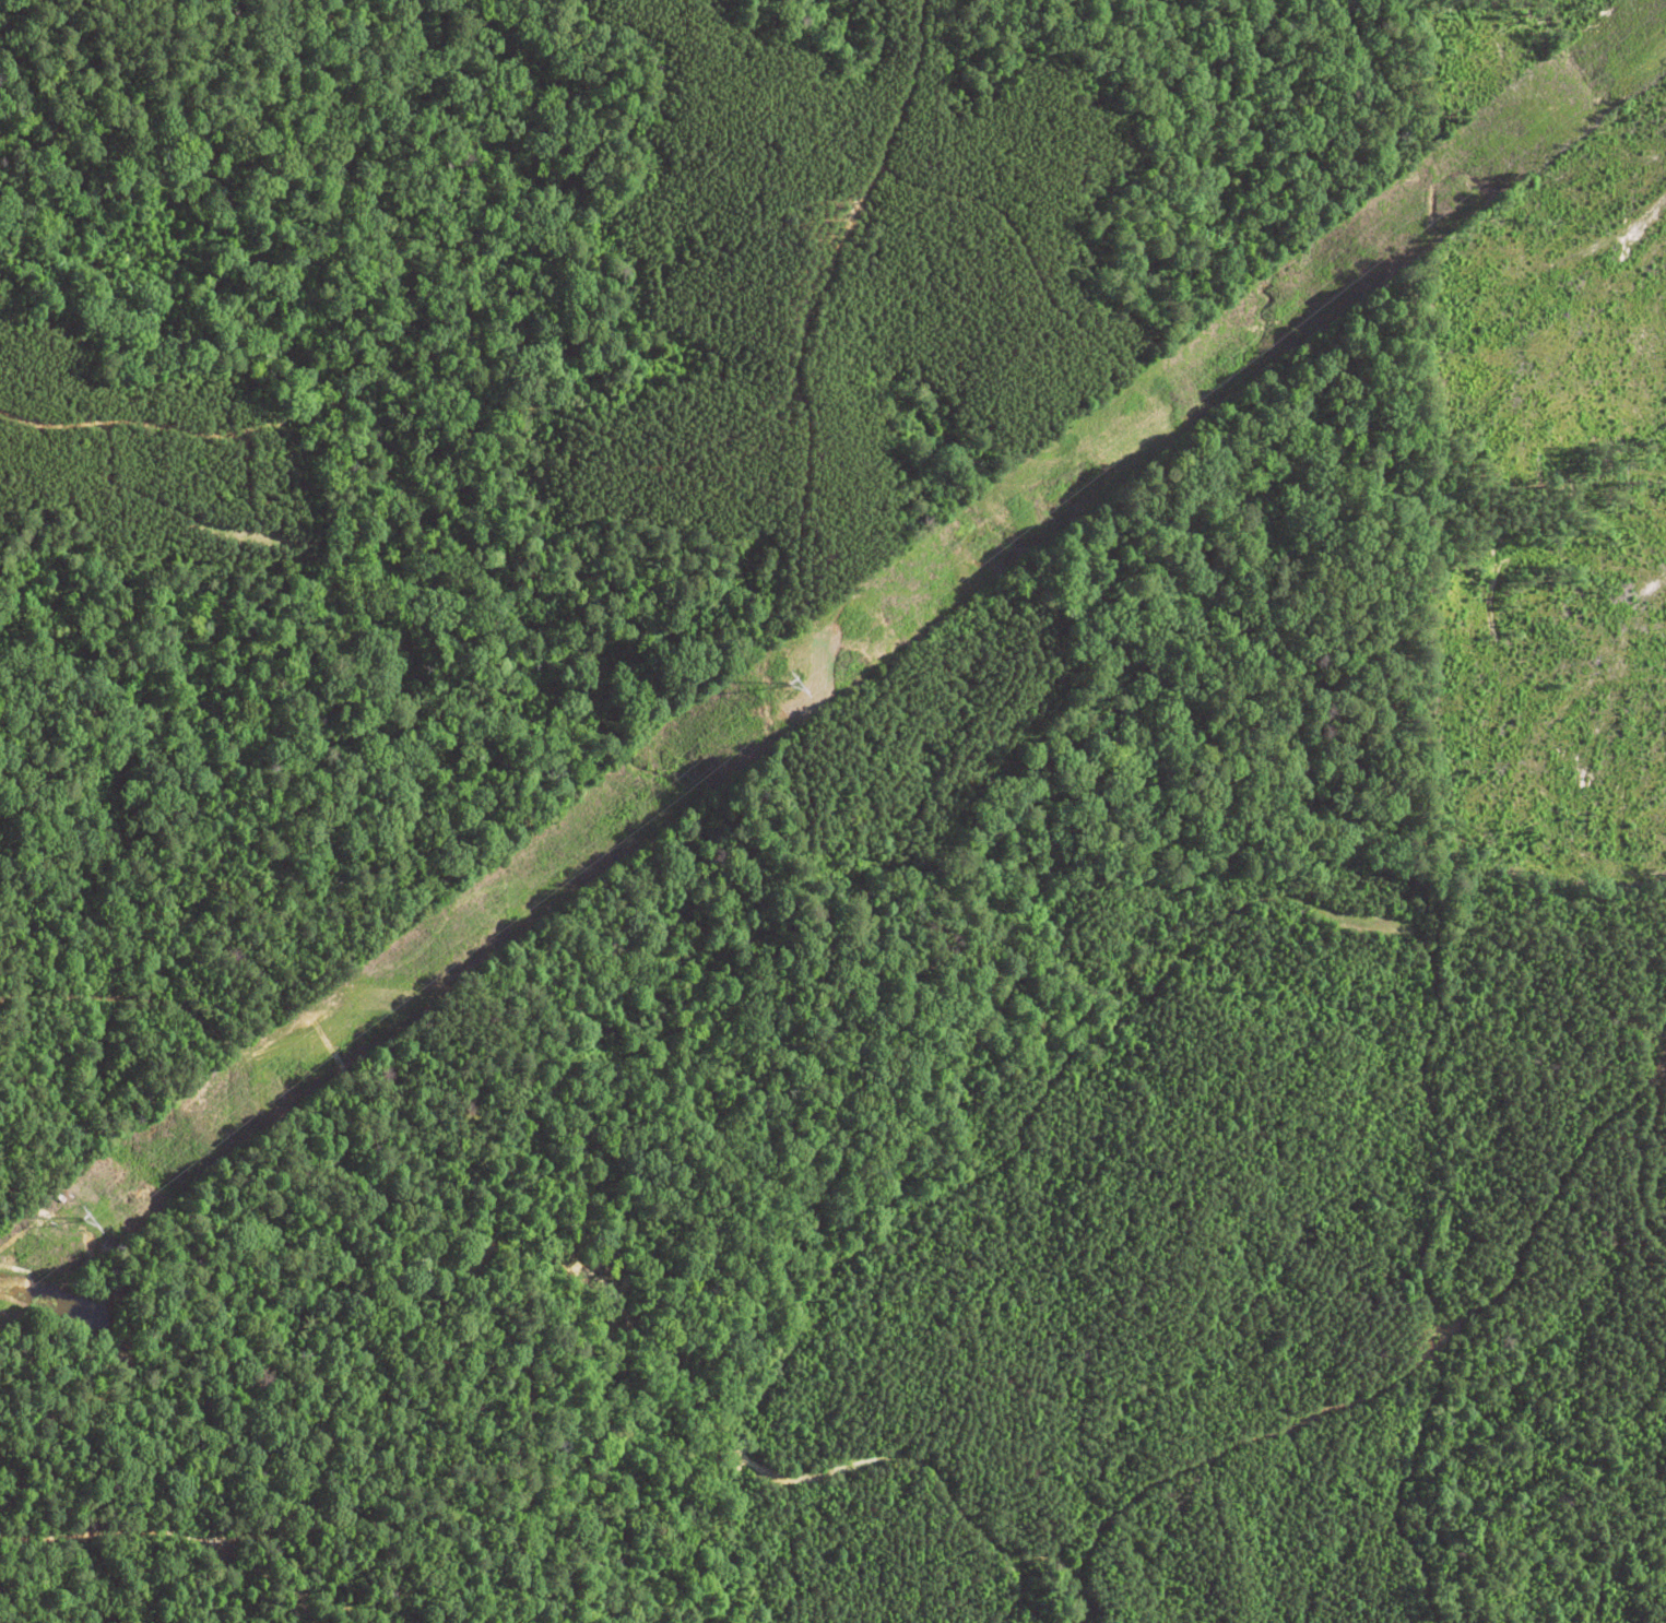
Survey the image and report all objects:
power tower: (789, 684)
power tower: (82, 1219)

